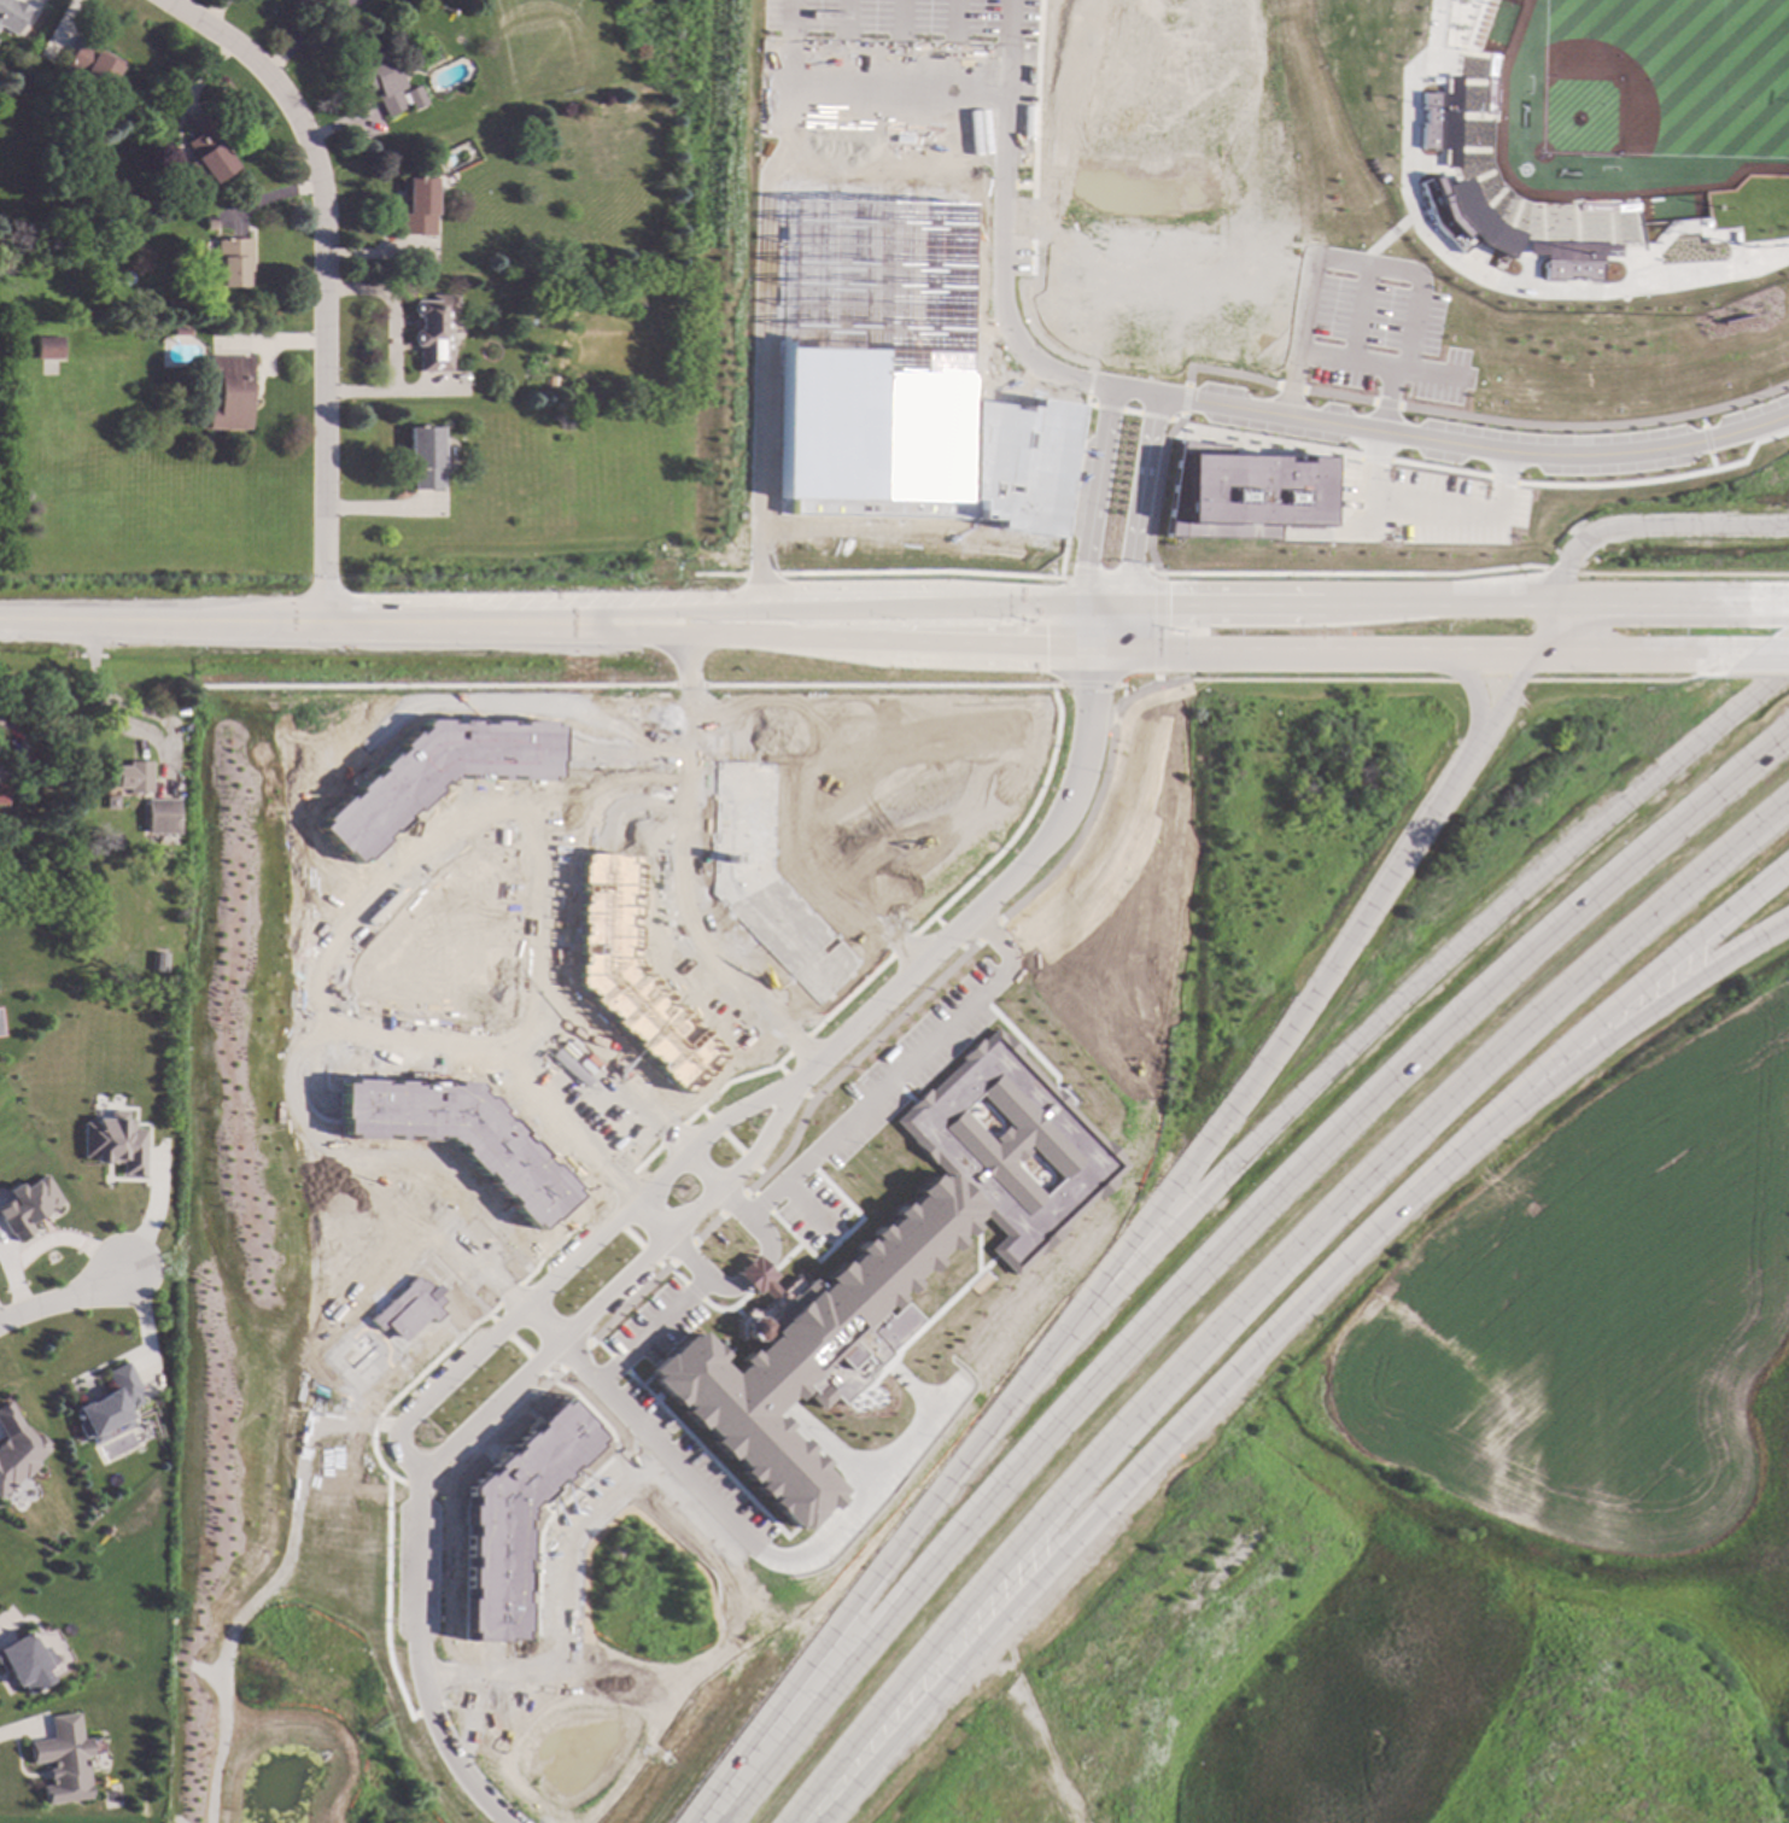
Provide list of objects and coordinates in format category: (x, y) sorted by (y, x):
building: (0, 0)
building: (429, 53)
road: (246, 63)
building: (90, 64)
parking lot: (895, 65)
road: (789, 74)
road: (838, 75)
road: (895, 75)
road: (948, 75)
road: (1005, 76)
building: (387, 82)
road: (1034, 98)
park: (1639, 98)
building: (1451, 136)
building: (205, 148)
road: (895, 151)
road: (902, 182)
road: (1000, 185)
road: (1023, 186)
building: (416, 204)
building: (228, 258)
road: (1362, 265)
road: (1002, 302)
road: (1356, 315)
road: (1024, 317)
building: (180, 331)
building: (432, 331)
parking lot: (1381, 332)
building: (47, 347)
road: (1346, 362)
road: (1223, 373)
road: (761, 376)
building: (896, 380)
building: (551, 381)
road: (322, 382)
road: (1088, 382)
road: (1288, 387)
building: (228, 391)
road: (1132, 393)
road: (1337, 397)
road: (1183, 399)
road: (1384, 402)
road: (1385, 404)
road: (1088, 405)
road: (1106, 408)
road: (1129, 413)
road: (1152, 416)
road: (1174, 419)
road: (1700, 420)
road: (1595, 426)
road: (1267, 439)
road: (1705, 440)
road: (1472, 446)
building: (425, 457)
road: (1373, 460)
road: (1709, 461)
road: (1438, 468)
road: (1354, 477)
road: (1660, 479)
road: (1502, 480)
road: (1501, 485)
road: (1072, 487)
road: (1328, 490)
road: (1156, 491)
building: (1239, 493)
road: (1093, 496)
road: (1139, 499)
parking lot: (1420, 509)
road: (1387, 515)
road: (1619, 527)
road: (1325, 534)
traffic signals: (1083, 568)
road: (920, 572)
road: (1559, 572)
road: (760, 574)
road: (1350, 574)
road: (1682, 574)
road: (719, 575)
road: (1110, 575)
road: (1103, 603)
traffic signals: (1168, 603)
road: (1456, 603)
road: (758, 612)
road: (218, 621)
road: (1080, 624)
road: (1121, 624)
road: (1157, 624)
road: (756, 637)
traffic signals: (1043, 643)
road: (1098, 644)
road: (1322, 653)
road: (1636, 659)
road: (1766, 659)
road: (1086, 665)
road: (1105, 665)
road: (1755, 674)
road: (1303, 680)
road: (1489, 680)
road: (1623, 680)
road: (689, 685)
road: (882, 685)
road: (1087, 685)
road: (437, 686)
road: (1122, 690)
road: (1472, 690)
traffic signals: (1092, 693)
road: (468, 702)
road: (522, 703)
road: (656, 715)
road: (739, 740)
road: (620, 753)
road: (655, 754)
building: (435, 773)
building: (129, 776)
road: (655, 778)
road: (684, 784)
road: (491, 788)
building: (1, 793)
road: (828, 795)
road: (624, 802)
road: (655, 802)
road: (1092, 804)
building: (159, 814)
road: (1016, 828)
parking lot: (812, 839)
parking lot: (429, 863)
road: (368, 872)
road: (682, 875)
road: (387, 877)
building: (765, 883)
road: (379, 884)
parking lot: (524, 888)
parking lot: (667, 890)
road: (806, 894)
road: (315, 896)
road: (977, 905)
road: (321, 910)
parking lot: (843, 917)
road: (711, 919)
road: (934, 922)
parking lot: (359, 928)
road: (984, 931)
road: (947, 936)
road: (431, 939)
road: (539, 940)
road: (556, 941)
road: (899, 945)
road: (959, 950)
road: (673, 956)
road: (450, 959)
building: (157, 962)
parking lot: (521, 971)
building: (630, 974)
road: (1658, 976)
road: (561, 981)
parking lot: (723, 993)
road: (846, 995)
road: (1410, 1000)
road: (1659, 1005)
parking lot: (386, 1027)
parking lot: (457, 1028)
road: (522, 1033)
road: (522, 1034)
road: (795, 1044)
road: (1022, 1046)
road: (429, 1047)
road: (849, 1061)
parking lot: (907, 1062)
road: (428, 1063)
road: (778, 1069)
road: (901, 1070)
road: (312, 1077)
road: (730, 1080)
road: (491, 1082)
road: (791, 1083)
road: (900, 1091)
road: (805, 1098)
road: (586, 1102)
road: (702, 1112)
road: (713, 1126)
road: (671, 1134)
building: (457, 1137)
road: (730, 1143)
building: (112, 1144)
road: (746, 1161)
road: (642, 1162)
road: (318, 1164)
road: (364, 1171)
road: (758, 1173)
road: (715, 1185)
road: (616, 1186)
road: (750, 1191)
road: (760, 1203)
road: (731, 1205)
building: (25, 1206)
road: (470, 1208)
road: (602, 1208)
road: (806, 1209)
road: (788, 1211)
parking lot: (811, 1213)
road: (499, 1217)
road: (614, 1221)
road: (802, 1226)
road: (706, 1229)
road: (840, 1237)
road: (562, 1238)
road: (631, 1238)
road: (765, 1238)
road: (834, 1238)
road: (671, 1239)
road: (975, 1243)
road: (1128, 1251)
road: (1216, 1251)
road: (682, 1252)
parking lot: (472, 1254)
road: (648, 1255)
road: (783, 1258)
road: (311, 1264)
road: (567, 1264)
road: (660, 1267)
building: (884, 1270)
road: (752, 1274)
road: (674, 1275)
road: (758, 1281)
road: (614, 1287)
road: (721, 1287)
road: (463, 1289)
road: (691, 1291)
road: (1271, 1291)
road: (508, 1295)
road: (66, 1296)
road: (629, 1303)
crop: (1595, 1308)
building: (408, 1309)
road: (726, 1309)
road: (491, 1317)
parking lot: (653, 1326)
road: (919, 1326)
road: (501, 1328)
road: (650, 1331)
road: (518, 1346)
road: (601, 1346)
road: (573, 1357)
road: (615, 1363)
road: (534, 1365)
road: (545, 1375)
road: (643, 1380)
road: (407, 1387)
road: (907, 1389)
building: (109, 1403)
road: (1202, 1408)
parking lot: (644, 1409)
road: (594, 1416)
road: (355, 1425)
building: (16, 1449)
road: (826, 1449)
road: (708, 1461)
road: (638, 1472)
road: (419, 1485)
road: (438, 1485)
parking lot: (720, 1488)
road: (445, 1491)
road: (701, 1492)
parking lot: (590, 1494)
parking lot: (698, 1517)
building: (510, 1519)
parking lot: (550, 1591)
road: (384, 1601)
road: (566, 1609)
road: (718, 1649)
road: (489, 1657)
building: (23, 1663)
road: (419, 1664)
road: (448, 1675)
road: (581, 1693)
road: (428, 1707)
building: (60, 1759)
road: (487, 1764)

